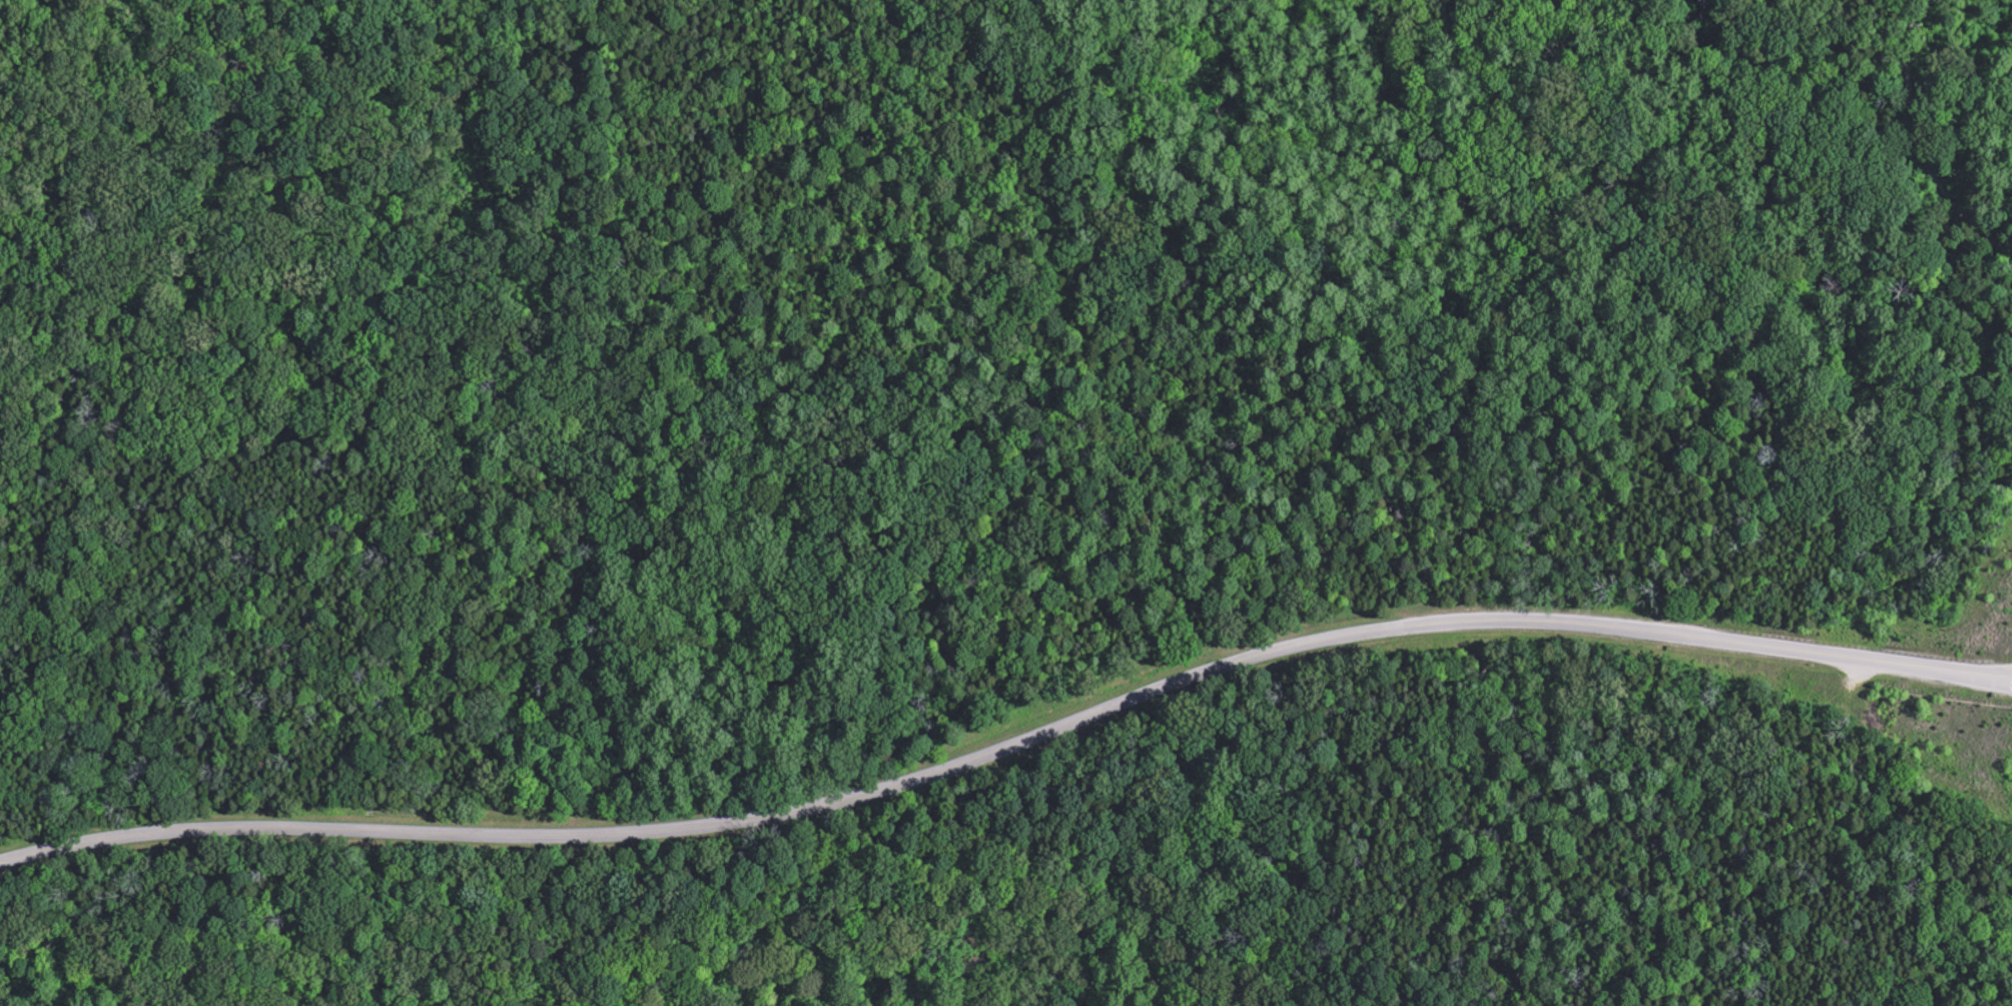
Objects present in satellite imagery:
road: (1922, 140)
road: (1009, 749)
road: (125, 964)

